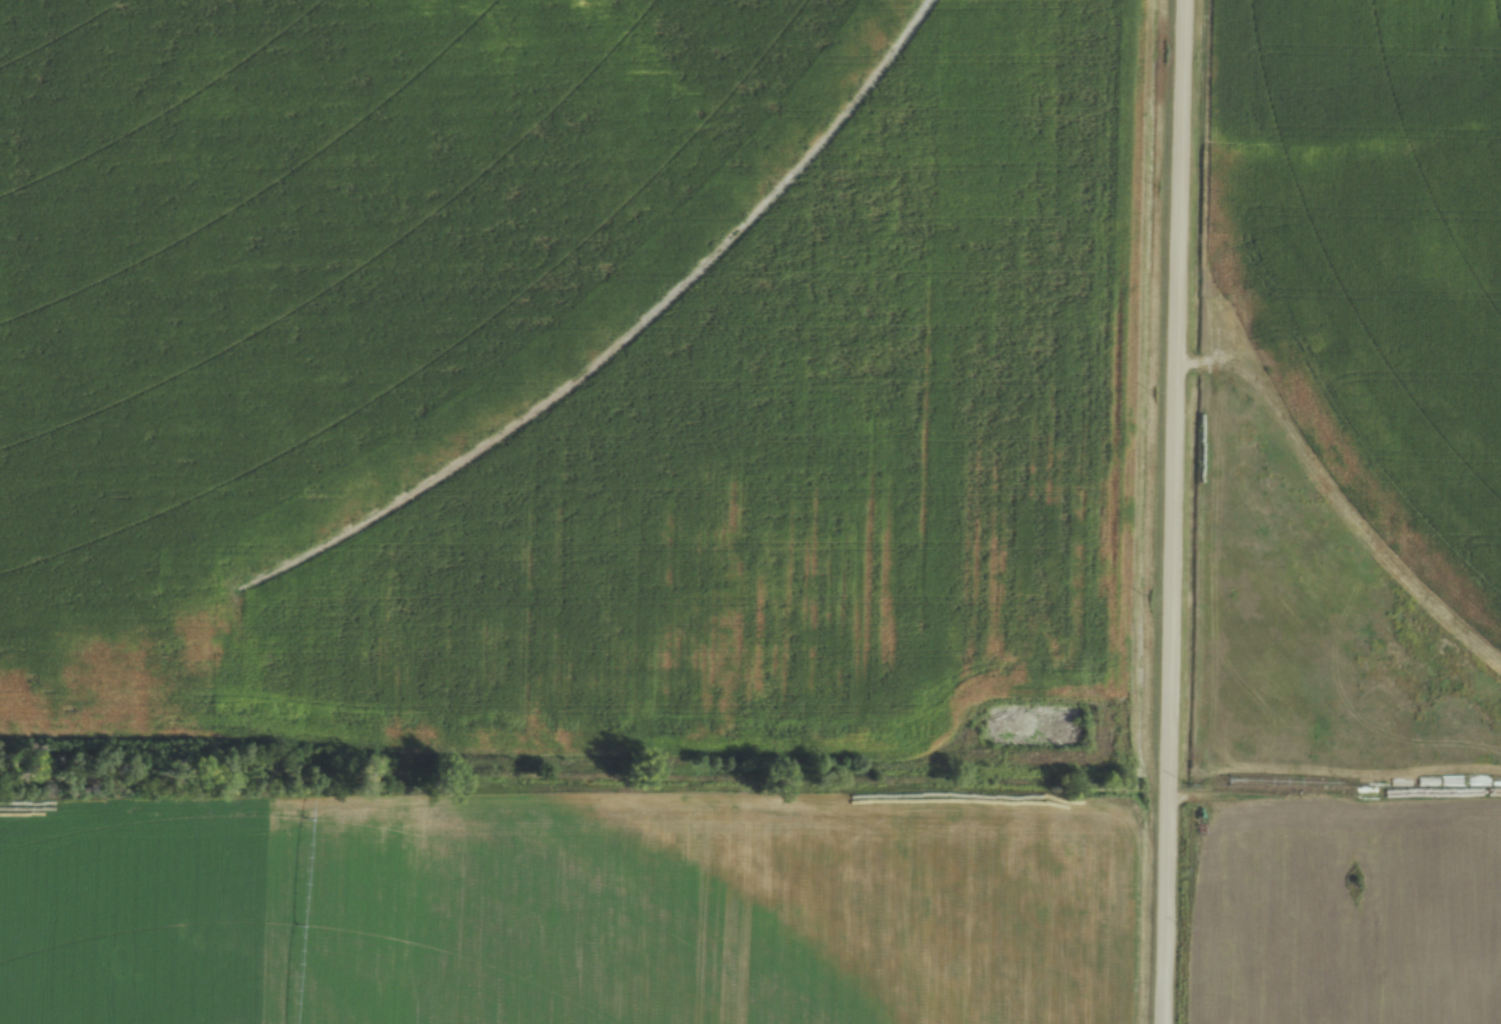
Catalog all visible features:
road: (1174, 512)

